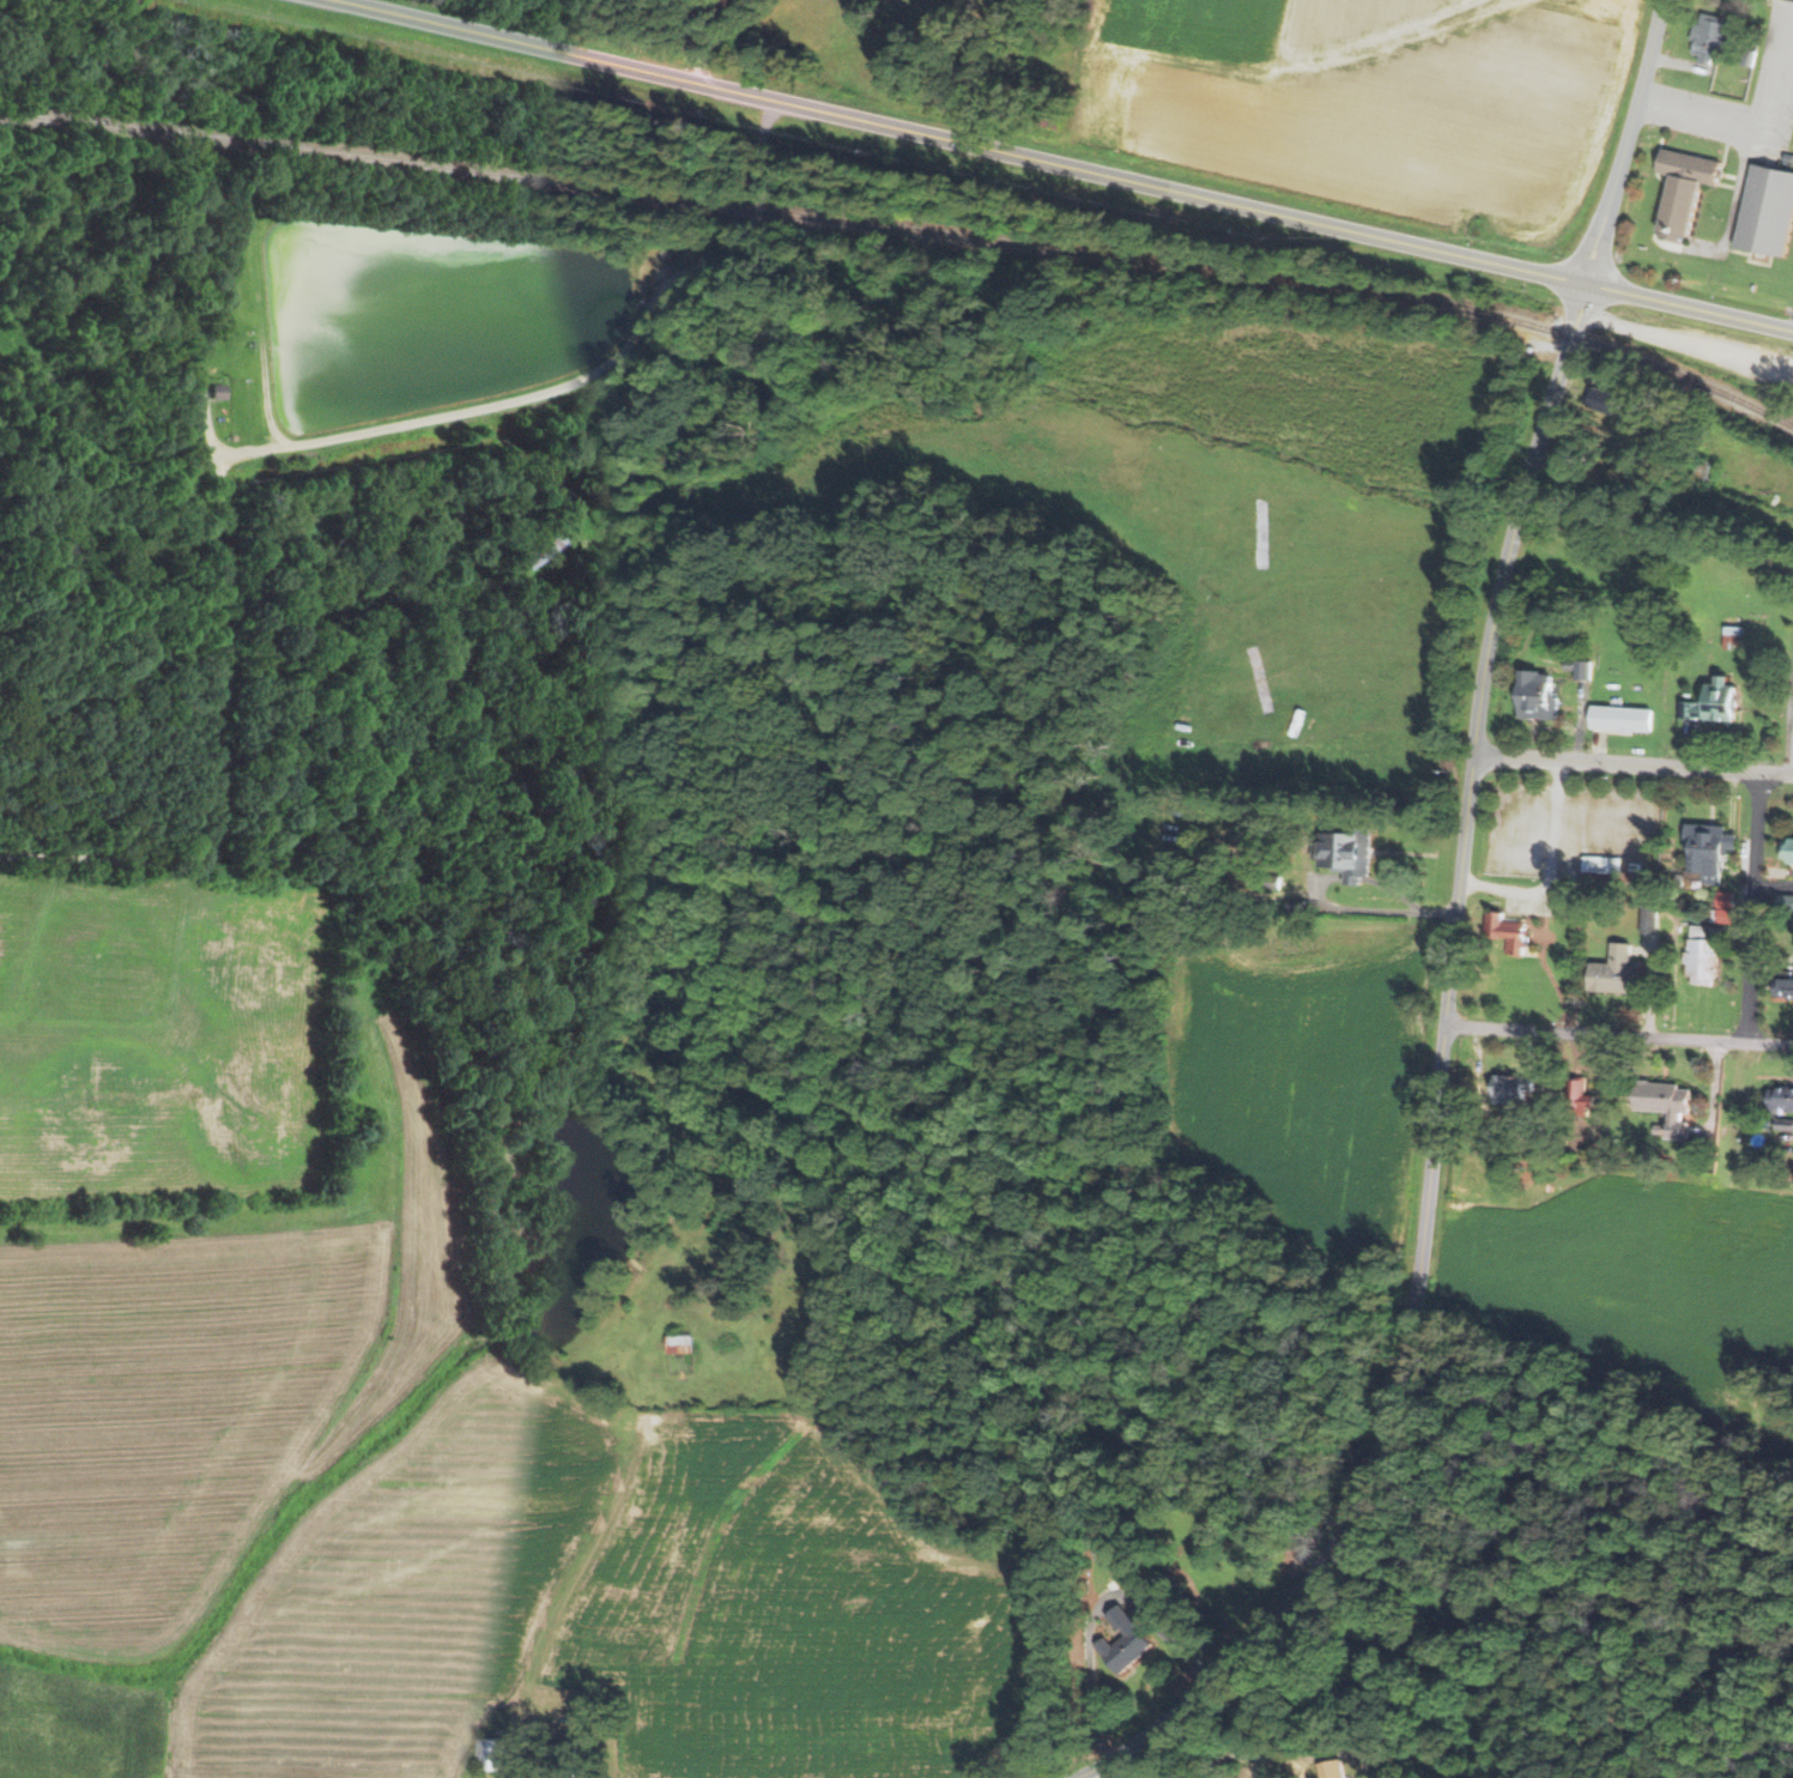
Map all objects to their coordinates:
building: (1713, 37)
building: (1750, 58)
road: (1680, 62)
road: (979, 71)
road: (1782, 89)
road: (1702, 115)
road: (959, 141)
building: (1791, 158)
road: (1662, 177)
building: (1689, 190)
building: (1769, 211)
road: (1732, 219)
railway: (905, 230)
road: (1752, 252)
road: (1751, 259)
road: (1689, 307)
road: (1684, 340)
road: (574, 380)
building: (1605, 400)
road: (1524, 506)
building: (540, 549)
building: (1652, 631)
building: (1734, 635)
building: (1571, 664)
building: (1585, 669)
building: (1539, 694)
building: (1715, 703)
building: (1622, 718)
road: (1634, 764)
building: (1787, 851)
building: (1708, 852)
building: (1349, 853)
building: (1605, 863)
road: (1552, 867)
building: (1569, 901)
building: (1785, 902)
road: (1751, 907)
building: (1718, 909)
building: (1652, 918)
building: (1507, 929)
building: (1704, 955)
building: (1619, 970)
building: (1786, 987)
road: (1612, 1033)
building: (1514, 1085)
building: (1582, 1090)
building: (1782, 1099)
building: (1668, 1102)
building: (1785, 1123)
building: (1661, 1129)
building: (1598, 1153)
road: (1418, 1254)
crop: (1635, 1265)
building: (683, 1343)
building: (1122, 1640)
road: (1242, 1650)
building: (496, 1756)
building: (1331, 1770)

